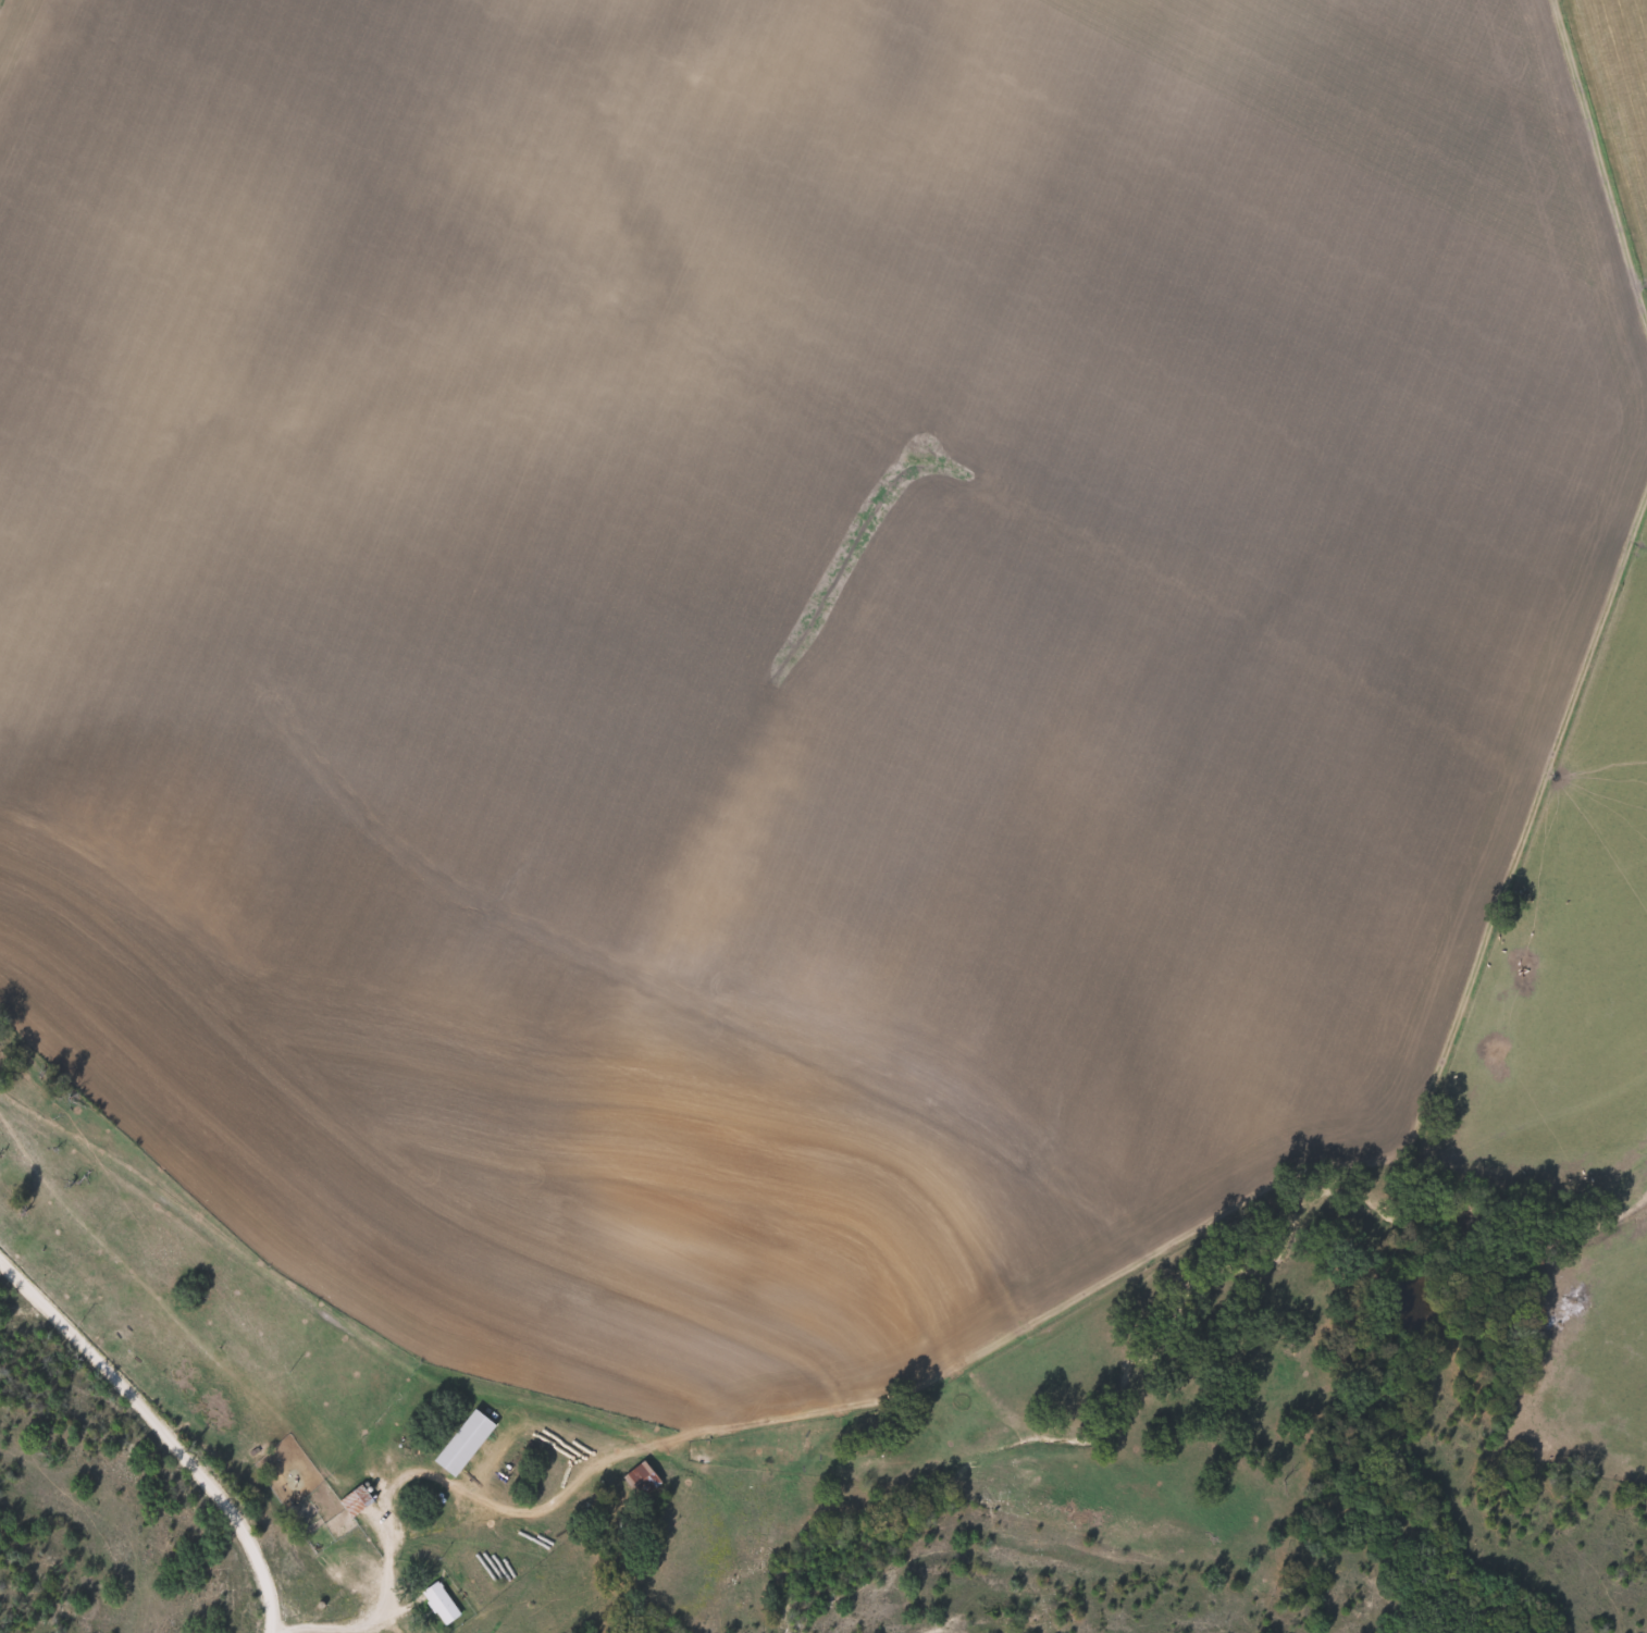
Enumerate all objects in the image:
building: (466, 1443)
road: (135, 1463)
building: (643, 1480)
building: (357, 1500)
building: (442, 1603)

